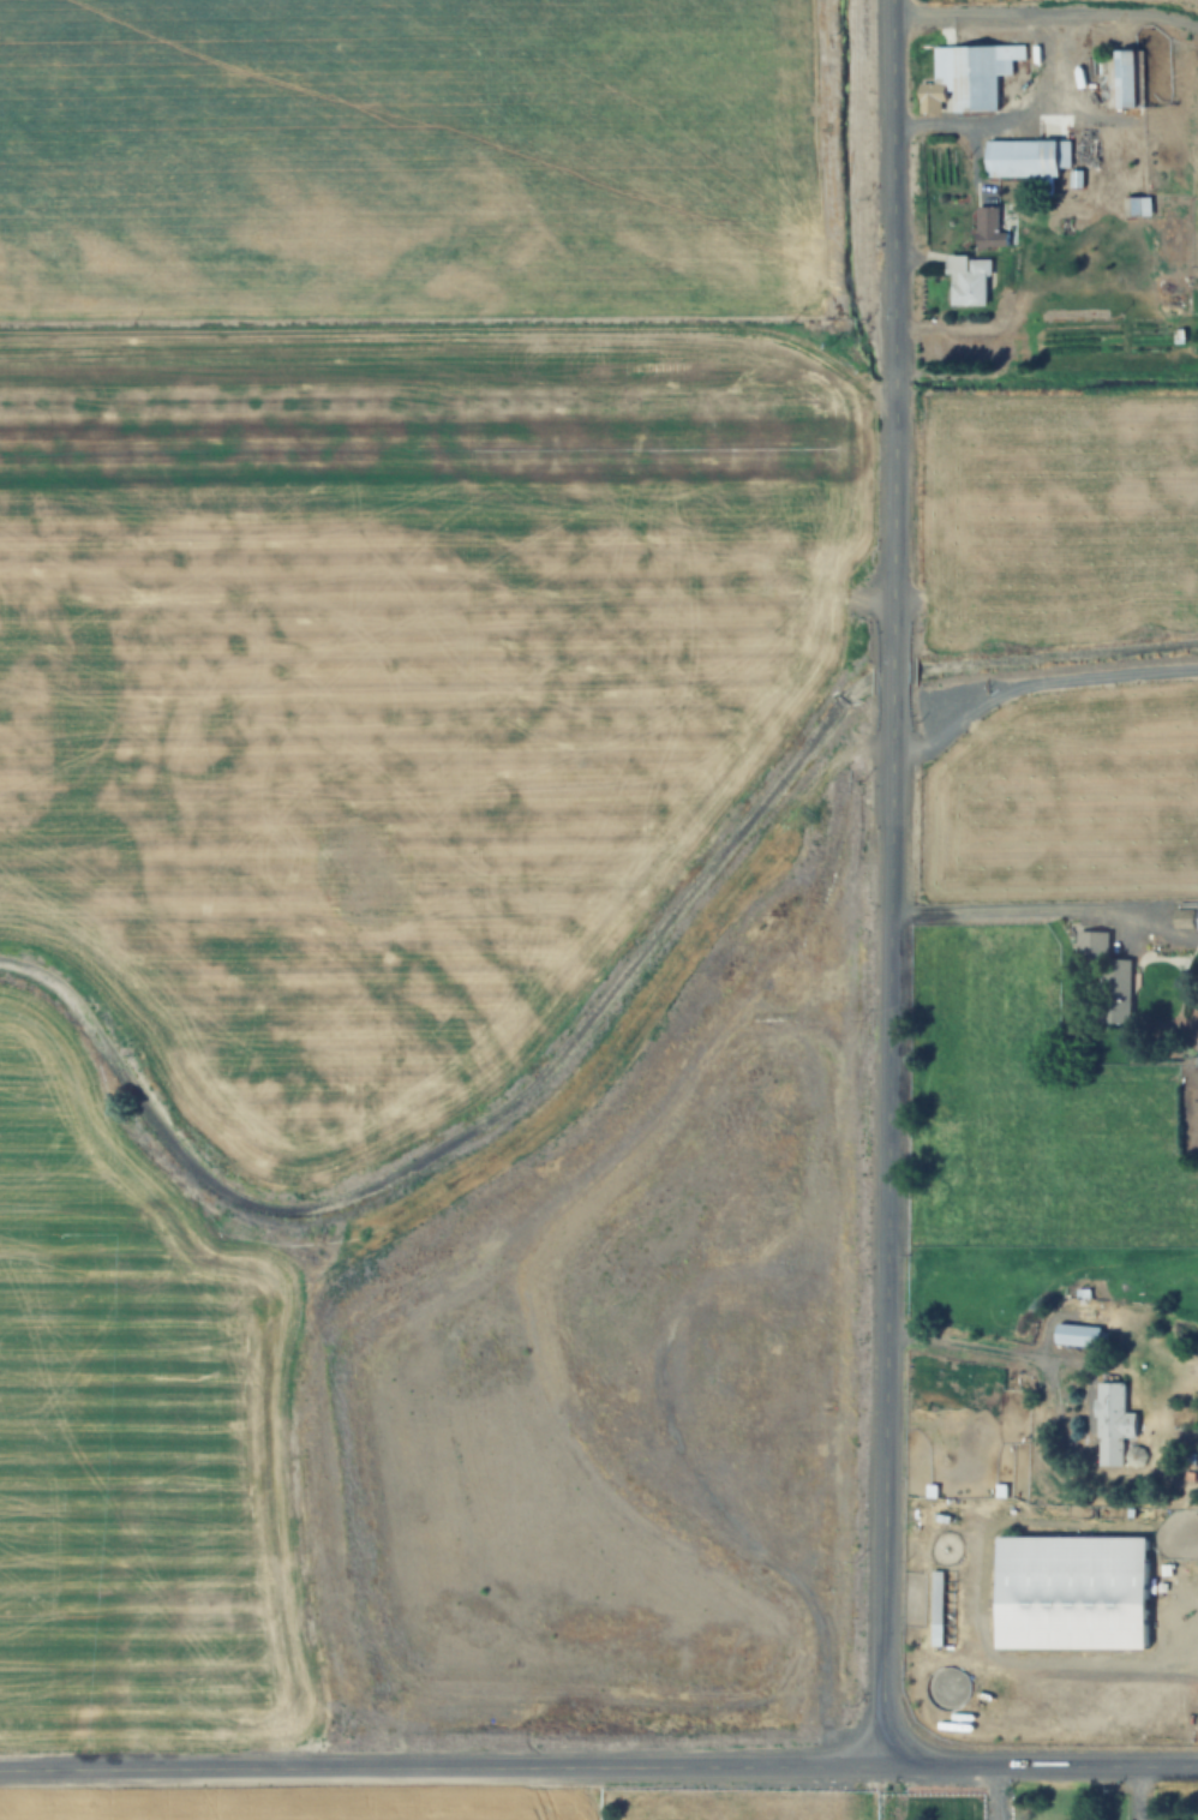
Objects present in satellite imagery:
building: (1180, 335)
road: (888, 884)
building: (1184, 920)
building: (1094, 942)
building: (1115, 992)
building: (1083, 1335)
building: (1114, 1423)
building: (1073, 1593)
building: (944, 1608)
road: (598, 1770)

